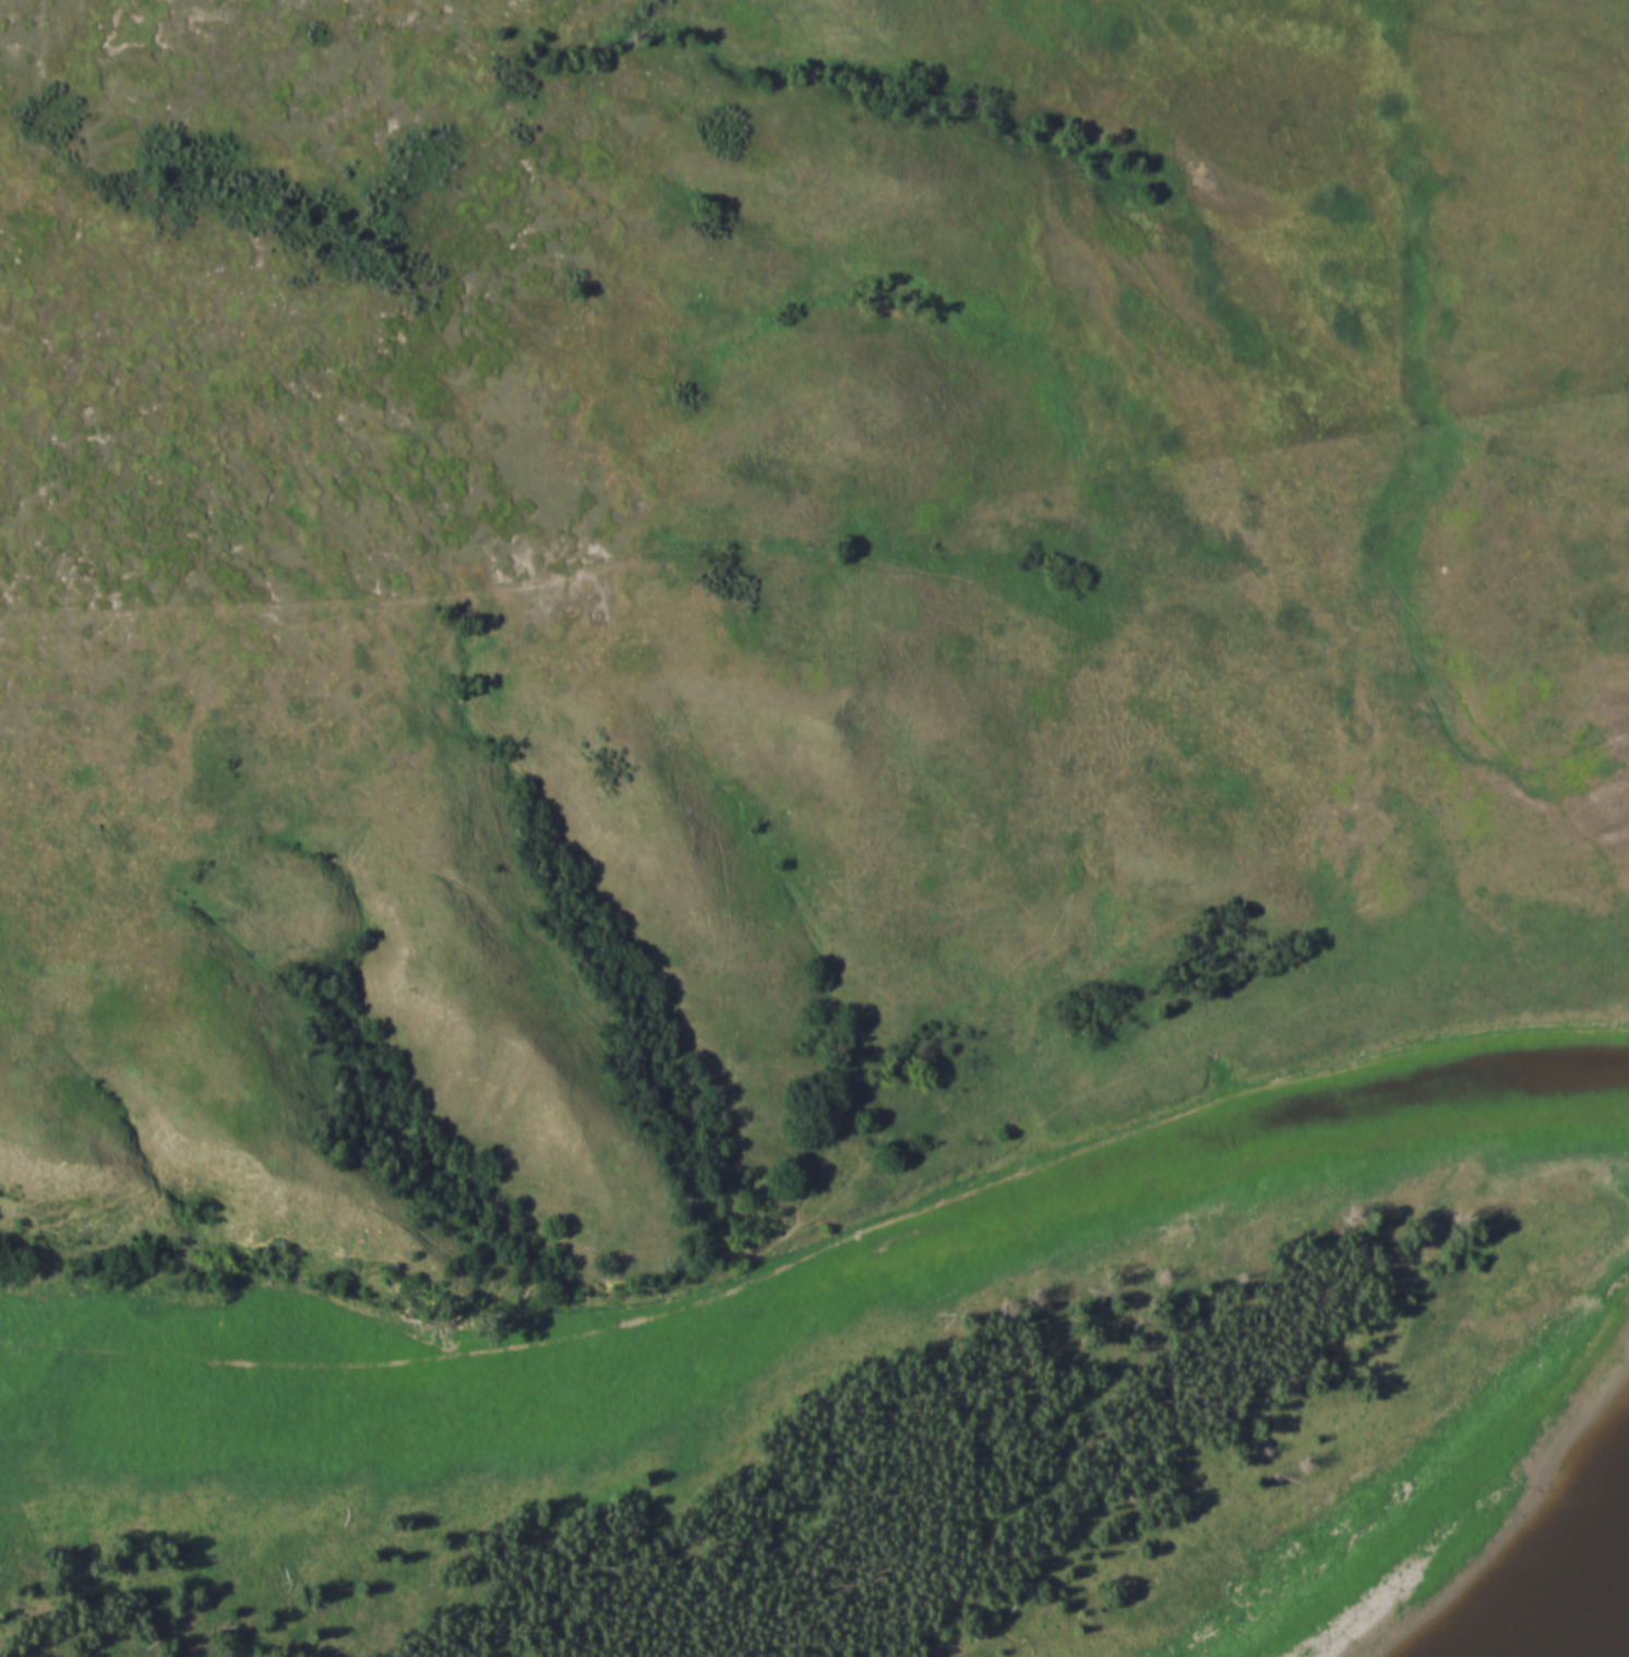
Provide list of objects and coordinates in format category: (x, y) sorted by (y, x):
river: (1566, 1589)

